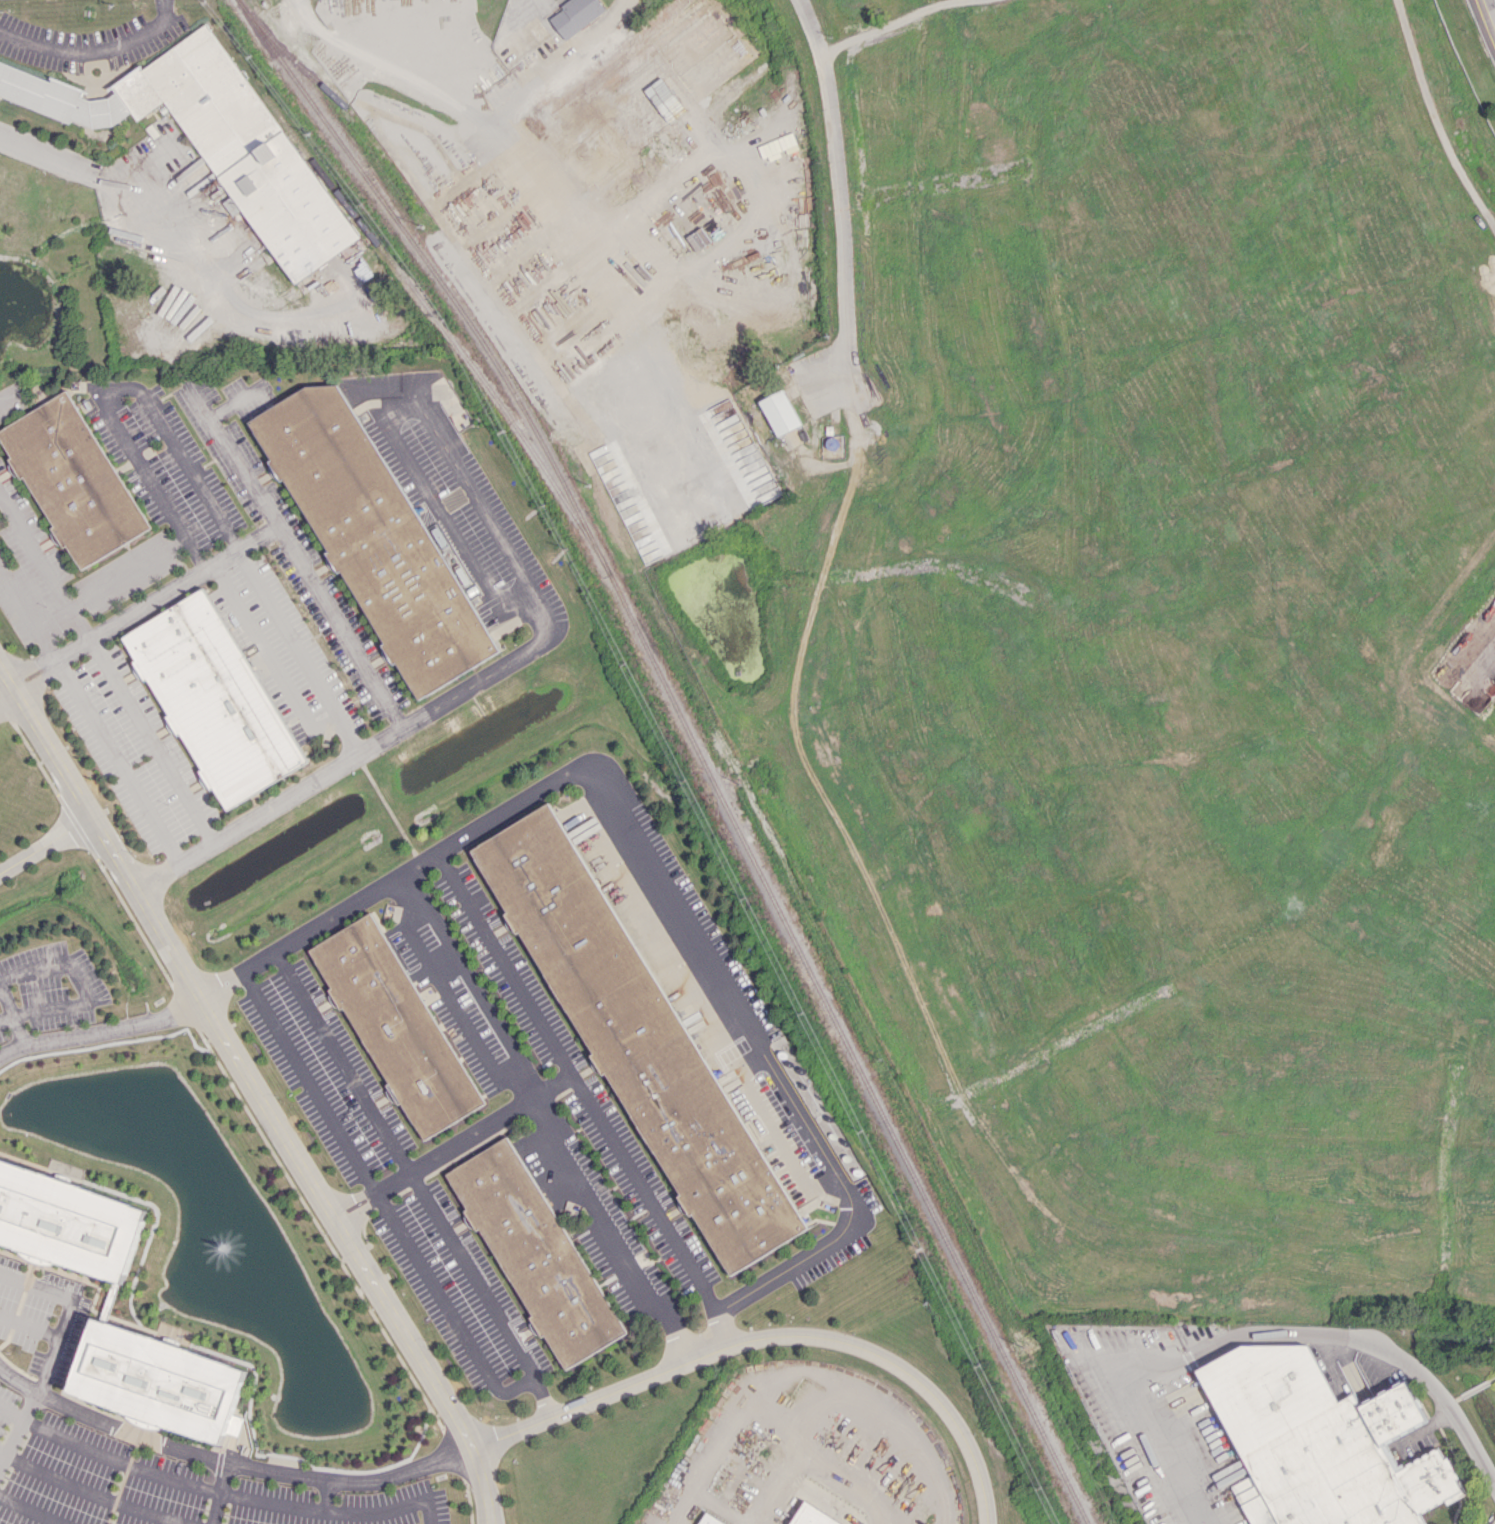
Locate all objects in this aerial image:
building: (575, 15)
road: (1487, 15)
road: (889, 22)
road: (94, 51)
road: (395, 75)
building: (637, 90)
road: (507, 109)
road: (1434, 118)
building: (213, 140)
road: (839, 190)
road: (116, 192)
road: (766, 193)
road: (108, 387)
building: (779, 412)
road: (231, 448)
building: (72, 479)
building: (372, 537)
road: (245, 542)
road: (35, 549)
road: (115, 581)
road: (28, 614)
road: (457, 691)
building: (212, 699)
road: (9, 706)
road: (323, 723)
road: (345, 735)
road: (150, 740)
railway: (695, 743)
road: (118, 760)
road: (44, 842)
road: (494, 946)
road: (470, 978)
road: (722, 983)
road: (79, 984)
road: (11, 1016)
road: (5, 1018)
building: (396, 1025)
road: (319, 1027)
road: (101, 1030)
building: (637, 1039)
road: (257, 1091)
road: (773, 1132)
road: (639, 1192)
road: (382, 1199)
building: (68, 1220)
road: (618, 1223)
building: (534, 1251)
road: (461, 1255)
road: (769, 1336)
road: (1378, 1345)
building: (156, 1380)
road: (1141, 1423)
road: (16, 1428)
building: (1321, 1443)
road: (910, 1447)
road: (106, 1458)
road: (226, 1464)
road: (90, 1493)
road: (218, 1494)
road: (326, 1494)
road: (332, 1508)
road: (31, 1510)
building: (811, 1515)
building: (707, 1520)

